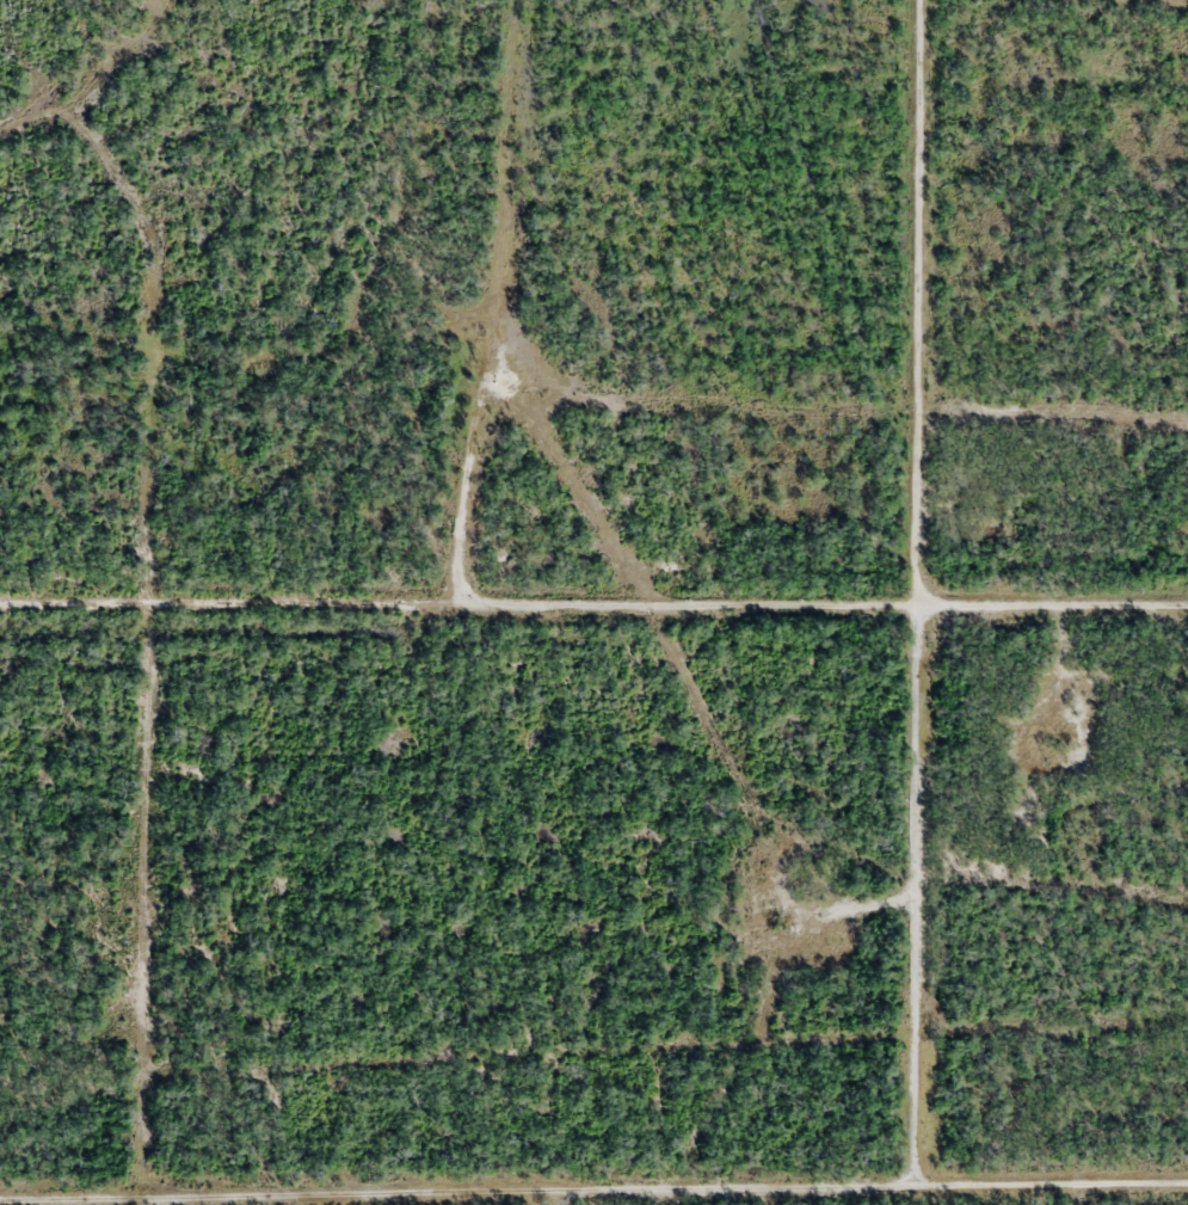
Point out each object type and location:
road: (919, 598)
road: (593, 603)
road: (593, 1199)

